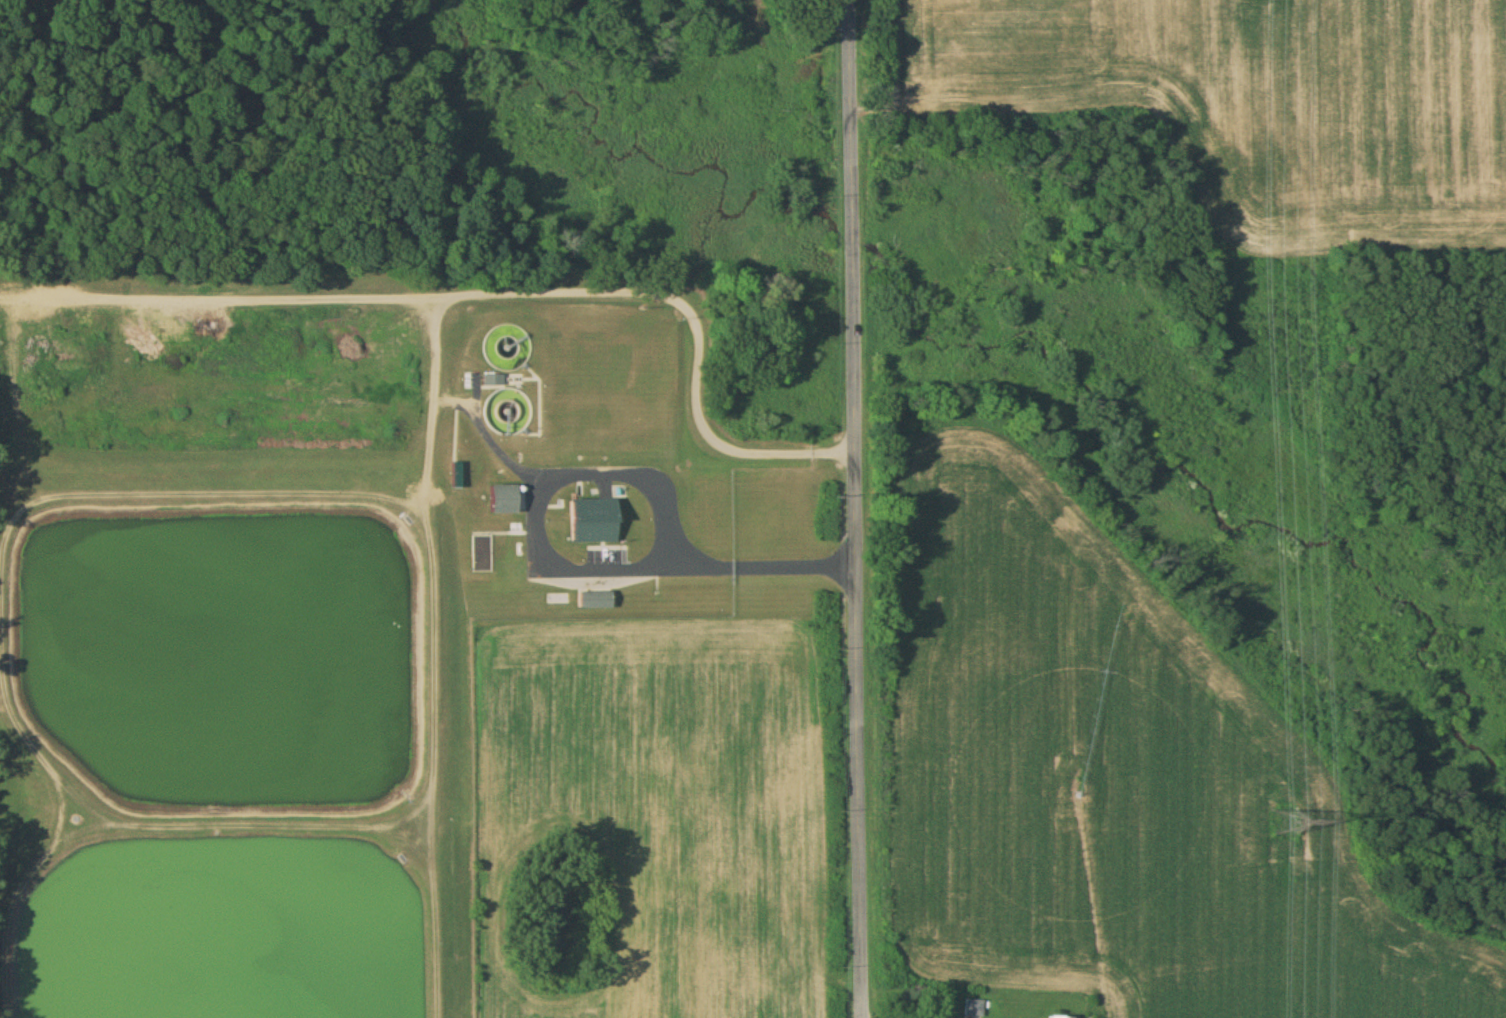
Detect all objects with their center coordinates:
road: (493, 294)
building: (491, 381)
road: (435, 405)
building: (508, 418)
building: (500, 499)
road: (857, 508)
building: (590, 521)
road: (558, 562)
road: (0, 573)
building: (591, 600)
road: (429, 764)
power tower: (1284, 820)
building: (972, 1009)
building: (1048, 1017)

